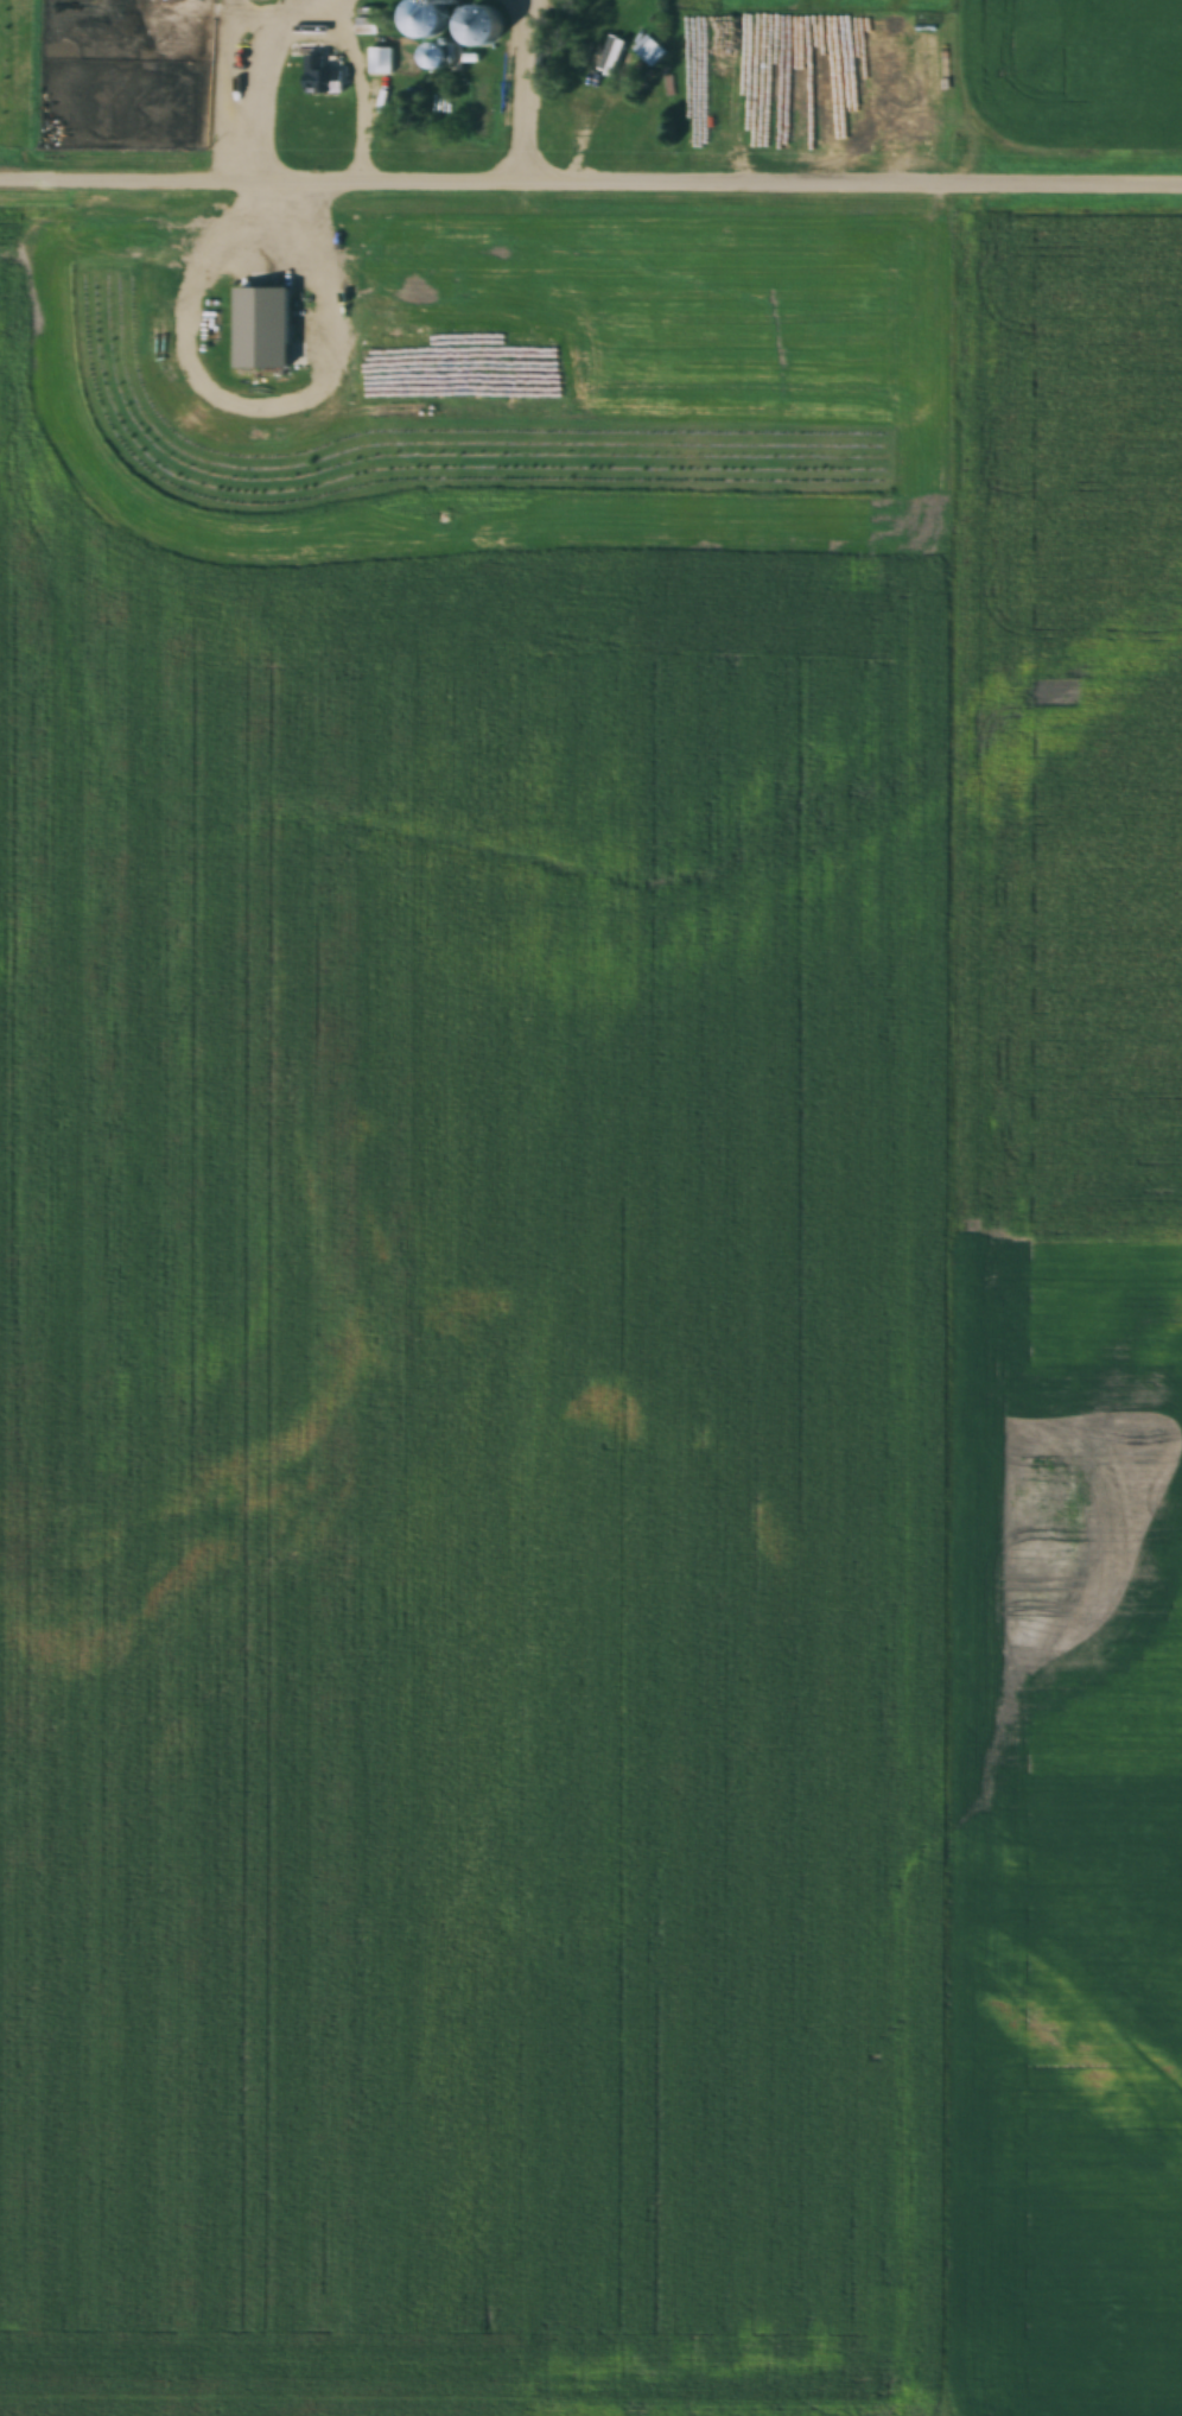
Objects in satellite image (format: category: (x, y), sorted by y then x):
building: (482, 27)
building: (598, 39)
building: (650, 51)
building: (381, 62)
building: (324, 77)
road: (591, 182)
building: (263, 329)

